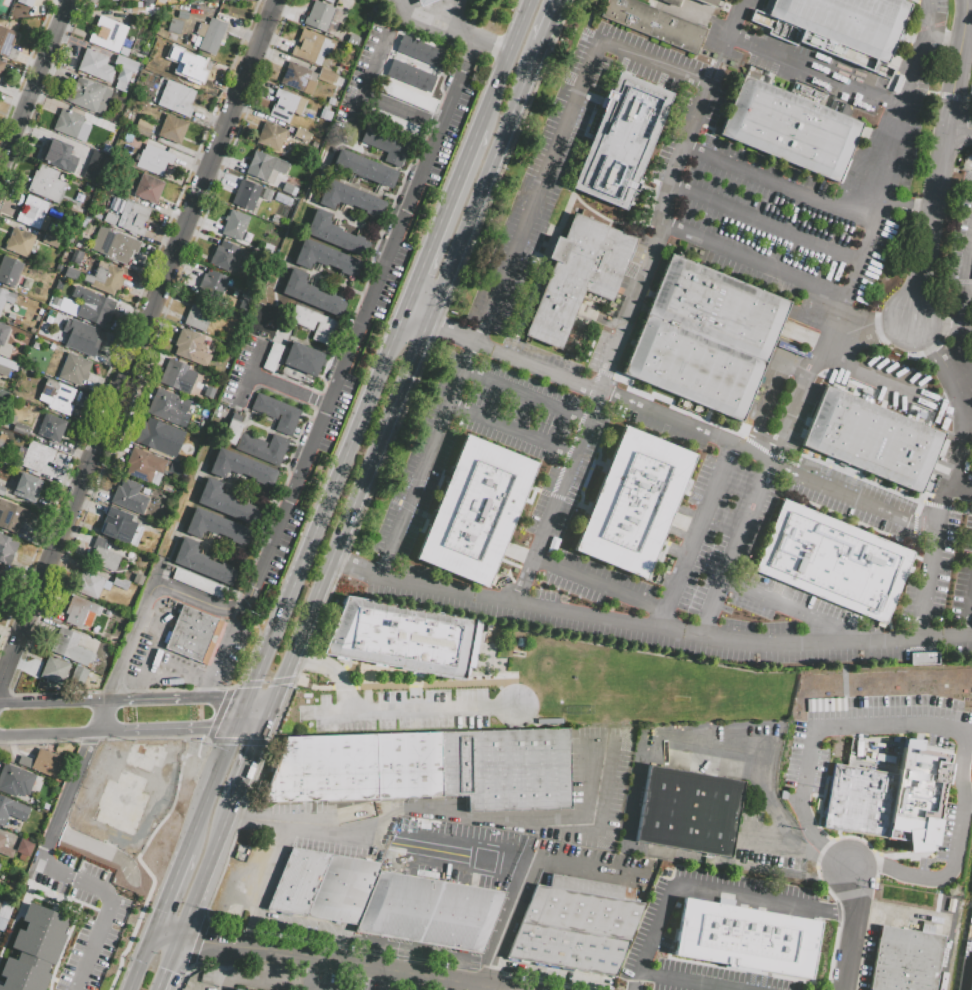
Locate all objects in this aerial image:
building: (148, 1)
building: (329, 1)
building: (24, 2)
building: (422, 2)
parking lot: (750, 4)
parking lot: (939, 6)
building: (182, 15)
gas station: (435, 15)
building: (323, 17)
road: (738, 19)
building: (662, 20)
road: (550, 23)
road: (428, 25)
building: (836, 25)
building: (173, 28)
building: (104, 32)
road: (467, 32)
building: (209, 35)
road: (473, 38)
building: (352, 39)
building: (6, 41)
road: (944, 45)
building: (307, 46)
building: (420, 50)
building: (125, 52)
building: (109, 54)
building: (138, 59)
road: (795, 61)
road: (921, 61)
road: (25, 62)
building: (125, 62)
road: (957, 63)
road: (505, 64)
building: (1, 65)
building: (72, 65)
building: (94, 65)
building: (181, 66)
building: (123, 74)
building: (411, 75)
building: (326, 76)
road: (442, 76)
building: (299, 78)
road: (365, 84)
building: (120, 85)
road: (971, 85)
road: (34, 87)
road: (969, 90)
road: (925, 91)
building: (88, 95)
building: (406, 95)
road: (952, 96)
road: (39, 98)
building: (176, 98)
building: (332, 104)
building: (285, 105)
road: (401, 112)
road: (699, 116)
building: (391, 121)
building: (67, 122)
road: (430, 122)
street lamp: (931, 123)
building: (142, 127)
building: (172, 128)
building: (793, 128)
road: (960, 128)
building: (302, 135)
building: (271, 136)
parking lot: (451, 137)
building: (624, 141)
building: (386, 143)
building: (58, 156)
building: (153, 159)
building: (91, 164)
building: (264, 167)
building: (364, 167)
road: (678, 168)
building: (45, 183)
road: (486, 184)
parking lot: (804, 187)
building: (148, 188)
road: (779, 188)
building: (288, 189)
building: (245, 194)
building: (267, 194)
building: (281, 198)
building: (349, 198)
parking lot: (530, 205)
road: (667, 206)
road: (907, 207)
building: (76, 208)
building: (33, 213)
road: (444, 214)
road: (598, 214)
building: (132, 217)
building: (109, 219)
building: (275, 219)
building: (235, 224)
road: (931, 224)
road: (766, 225)
building: (335, 234)
parking lot: (961, 234)
building: (68, 239)
building: (50, 240)
road: (869, 240)
building: (19, 242)
building: (113, 245)
building: (223, 255)
building: (326, 258)
road: (754, 262)
road: (506, 268)
building: (29, 269)
building: (9, 270)
building: (70, 273)
building: (39, 274)
road: (539, 274)
building: (105, 277)
building: (49, 278)
building: (579, 278)
parking lot: (392, 283)
building: (213, 285)
building: (32, 286)
road: (363, 288)
building: (311, 294)
building: (40, 295)
building: (5, 297)
building: (91, 306)
road: (633, 308)
road: (420, 311)
road: (961, 311)
road: (367, 312)
building: (199, 314)
building: (10, 316)
road: (128, 317)
road: (932, 325)
building: (325, 326)
road: (890, 328)
road: (960, 331)
road: (143, 332)
building: (3, 333)
building: (80, 337)
road: (923, 337)
building: (707, 338)
building: (189, 345)
road: (150, 346)
street lamp: (903, 353)
parking lot: (539, 356)
building: (272, 357)
building: (303, 358)
road: (533, 363)
building: (7, 366)
building: (73, 369)
road: (250, 371)
building: (178, 376)
road: (875, 383)
road: (289, 389)
building: (1, 395)
building: (56, 396)
road: (311, 397)
road: (527, 397)
road: (770, 401)
street lamp: (351, 403)
building: (170, 407)
building: (276, 412)
parking lot: (338, 416)
building: (51, 428)
building: (20, 429)
road: (514, 431)
building: (201, 432)
building: (231, 432)
building: (159, 437)
building: (876, 442)
building: (1, 443)
parking lot: (534, 446)
building: (262, 447)
building: (33, 456)
road: (758, 458)
road: (785, 460)
road: (287, 462)
road: (381, 464)
building: (144, 466)
road: (768, 466)
building: (241, 467)
building: (176, 469)
street lamp: (306, 477)
building: (26, 487)
building: (1, 490)
road: (952, 491)
road: (962, 492)
building: (129, 496)
parking lot: (852, 498)
road: (328, 499)
building: (633, 503)
building: (226, 504)
parking lot: (552, 507)
road: (353, 509)
building: (475, 511)
road: (553, 514)
building: (12, 517)
road: (858, 523)
road: (913, 523)
building: (117, 525)
building: (217, 527)
parking lot: (719, 533)
road: (188, 536)
road: (696, 538)
building: (6, 548)
parking lot: (284, 548)
street lamp: (289, 548)
building: (103, 554)
street lamp: (375, 555)
building: (834, 562)
building: (202, 563)
road: (340, 564)
parking lot: (930, 564)
parking lot: (963, 576)
street lamp: (169, 577)
building: (1, 578)
building: (138, 579)
building: (120, 583)
building: (196, 583)
building: (90, 584)
road: (601, 586)
road: (250, 593)
road: (193, 598)
parking lot: (455, 605)
parking lot: (797, 607)
building: (79, 611)
road: (795, 611)
street lamp: (254, 612)
road: (146, 620)
road: (970, 623)
road: (674, 635)
building: (192, 636)
building: (404, 639)
parking lot: (233, 641)
building: (68, 646)
building: (922, 658)
building: (54, 670)
road: (333, 672)
road: (4, 673)
building: (78, 675)
road: (172, 679)
road: (265, 681)
traffic signals: (255, 682)
road: (403, 684)
road: (219, 687)
street lamp: (294, 688)
road: (210, 689)
road: (140, 690)
street lamp: (98, 691)
road: (108, 691)
road: (55, 692)
road: (4, 694)
road: (263, 698)
road: (234, 699)
road: (163, 701)
road: (53, 704)
road: (400, 709)
parking lot: (420, 709)
road: (103, 713)
road: (217, 713)
road: (270, 713)
road: (243, 714)
road: (873, 724)
parking lot: (868, 728)
road: (250, 729)
traffic signals: (211, 731)
road: (166, 732)
road: (47, 736)
road: (153, 737)
road: (89, 740)
road: (39, 741)
road: (238, 741)
traffic signals: (259, 742)
street lamp: (205, 744)
parking lot: (721, 750)
road: (940, 750)
road: (642, 751)
building: (41, 762)
road: (249, 763)
building: (429, 769)
road: (946, 773)
building: (16, 781)
parking lot: (592, 787)
road: (211, 790)
building: (887, 790)
building: (11, 809)
building: (688, 811)
road: (439, 815)
road: (958, 827)
parking lot: (320, 829)
parking lot: (763, 842)
road: (934, 845)
building: (5, 847)
building: (23, 848)
road: (794, 851)
parking lot: (456, 852)
parking lot: (600, 855)
road: (535, 859)
road: (472, 861)
road: (140, 862)
road: (208, 866)
road: (860, 868)
road: (816, 874)
road: (257, 883)
building: (322, 885)
building: (11, 886)
road: (171, 891)
road: (103, 895)
road: (767, 895)
parking lot: (97, 903)
street lamp: (209, 910)
traffic signals: (163, 911)
building: (429, 911)
building: (4, 913)
building: (552, 920)
parking lot: (970, 926)
parking lot: (306, 927)
building: (605, 929)
road: (852, 929)
road: (168, 934)
road: (189, 937)
building: (746, 938)
road: (196, 939)
traffic signals: (202, 940)
parking lot: (644, 941)
road: (218, 943)
building: (34, 948)
parking lot: (415, 951)
road: (175, 953)
parking lot: (866, 956)
street lamp: (126, 957)
road: (143, 960)
building: (905, 960)
road: (204, 964)
road: (363, 968)
road: (639, 969)
traffic signals: (170, 970)
parking lot: (277, 972)
road: (488, 973)
street lamp: (182, 974)
parking lot: (712, 978)
road: (241, 979)
road: (634, 979)
road: (166, 980)
road: (305, 981)
road: (390, 981)
road: (224, 983)
parking lot: (349, 983)
building: (971, 985)
road: (304, 988)
parking lot: (408, 988)
building: (235, 989)
road: (476, 989)

